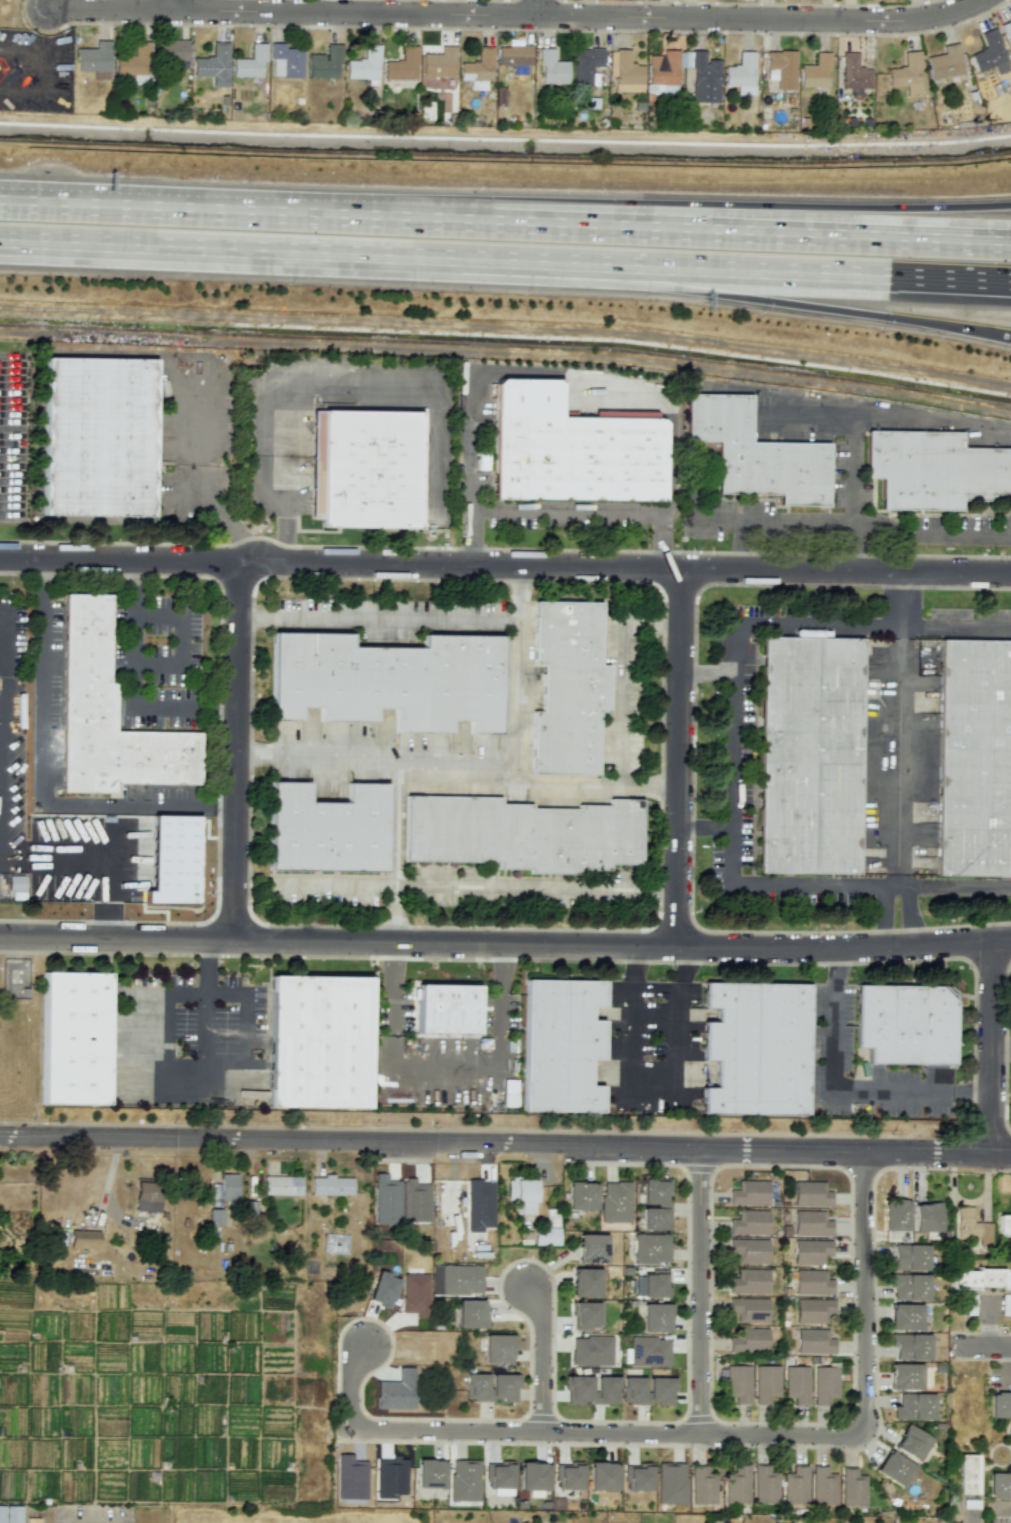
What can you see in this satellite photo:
road: (175, 5)
road: (540, 8)
road: (518, 16)
building: (1007, 30)
building: (171, 49)
building: (990, 53)
building: (514, 57)
building: (95, 59)
building: (285, 61)
building: (325, 62)
building: (945, 62)
building: (250, 63)
building: (439, 63)
building: (134, 64)
building: (585, 64)
building: (214, 65)
building: (364, 65)
building: (402, 65)
building: (552, 68)
building: (781, 68)
building: (741, 70)
building: (625, 72)
building: (816, 72)
building: (854, 72)
building: (907, 74)
building: (663, 75)
building: (661, 89)
road: (207, 208)
road: (713, 210)
road: (713, 224)
road: (326, 265)
road: (832, 288)
road: (832, 310)
road: (318, 387)
road: (935, 416)
road: (818, 422)
building: (103, 438)
road: (471, 442)
building: (573, 449)
building: (756, 453)
building: (365, 468)
building: (935, 470)
road: (857, 471)
road: (565, 512)
road: (771, 521)
road: (933, 537)
road: (471, 539)
road: (660, 540)
road: (855, 554)
road: (505, 566)
road: (137, 587)
road: (903, 599)
road: (376, 617)
road: (820, 625)
road: (3, 626)
road: (957, 628)
road: (149, 658)
parking lot: (160, 660)
road: (619, 671)
road: (709, 673)
building: (388, 680)
building: (567, 687)
road: (237, 706)
building: (112, 716)
road: (733, 751)
road: (899, 754)
road: (470, 757)
building: (814, 757)
road: (680, 758)
building: (972, 760)
road: (44, 777)
road: (588, 786)
road: (705, 827)
building: (326, 829)
building: (522, 834)
road: (397, 850)
road: (813, 880)
building: (16, 883)
road: (474, 887)
road: (959, 892)
road: (907, 911)
road: (885, 913)
road: (505, 946)
building: (453, 1011)
road: (632, 1018)
road: (676, 1019)
road: (205, 1020)
road: (831, 1020)
building: (903, 1024)
building: (73, 1038)
building: (325, 1045)
building: (561, 1045)
building: (756, 1048)
road: (993, 1048)
road: (1002, 1050)
road: (456, 1080)
road: (653, 1090)
road: (912, 1094)
road: (159, 1099)
road: (505, 1144)
building: (282, 1185)
building: (331, 1185)
building: (225, 1189)
building: (747, 1190)
building: (809, 1192)
road: (104, 1193)
building: (521, 1195)
building: (580, 1195)
building: (147, 1196)
building: (385, 1200)
building: (614, 1201)
building: (655, 1204)
building: (479, 1205)
building: (895, 1214)
building: (216, 1217)
building: (925, 1217)
building: (747, 1220)
building: (810, 1221)
building: (970, 1226)
building: (1004, 1226)
building: (547, 1230)
building: (84, 1238)
building: (748, 1247)
building: (591, 1248)
building: (650, 1248)
building: (809, 1249)
building: (909, 1257)
building: (455, 1279)
building: (747, 1279)
building: (980, 1279)
building: (811, 1280)
building: (584, 1282)
building: (652, 1284)
building: (908, 1286)
building: (382, 1289)
building: (970, 1304)
building: (747, 1306)
building: (812, 1307)
building: (470, 1313)
building: (585, 1315)
building: (905, 1316)
building: (655, 1317)
building: (747, 1338)
building: (813, 1339)
road: (982, 1344)
road: (552, 1345)
building: (909, 1346)
building: (497, 1348)
building: (590, 1350)
building: (649, 1351)
road: (540, 1356)
road: (980, 1356)
building: (905, 1376)
building: (737, 1380)
building: (764, 1381)
building: (796, 1381)
building: (823, 1381)
road: (349, 1383)
building: (490, 1387)
building: (591, 1389)
building: (648, 1390)
building: (1000, 1404)
building: (914, 1406)
road: (727, 1422)
road: (525, 1430)
road: (776, 1434)
building: (911, 1442)
road: (777, 1443)
building: (894, 1468)
building: (430, 1473)
building: (967, 1474)
building: (568, 1475)
building: (602, 1476)
building: (639, 1476)
building: (500, 1478)
building: (533, 1478)
building: (464, 1480)
building: (670, 1483)
building: (736, 1484)
building: (764, 1484)
building: (795, 1484)
building: (703, 1485)
building: (822, 1485)
building: (999, 1485)
building: (852, 1488)
building: (10, 1514)
building: (524, 1522)

